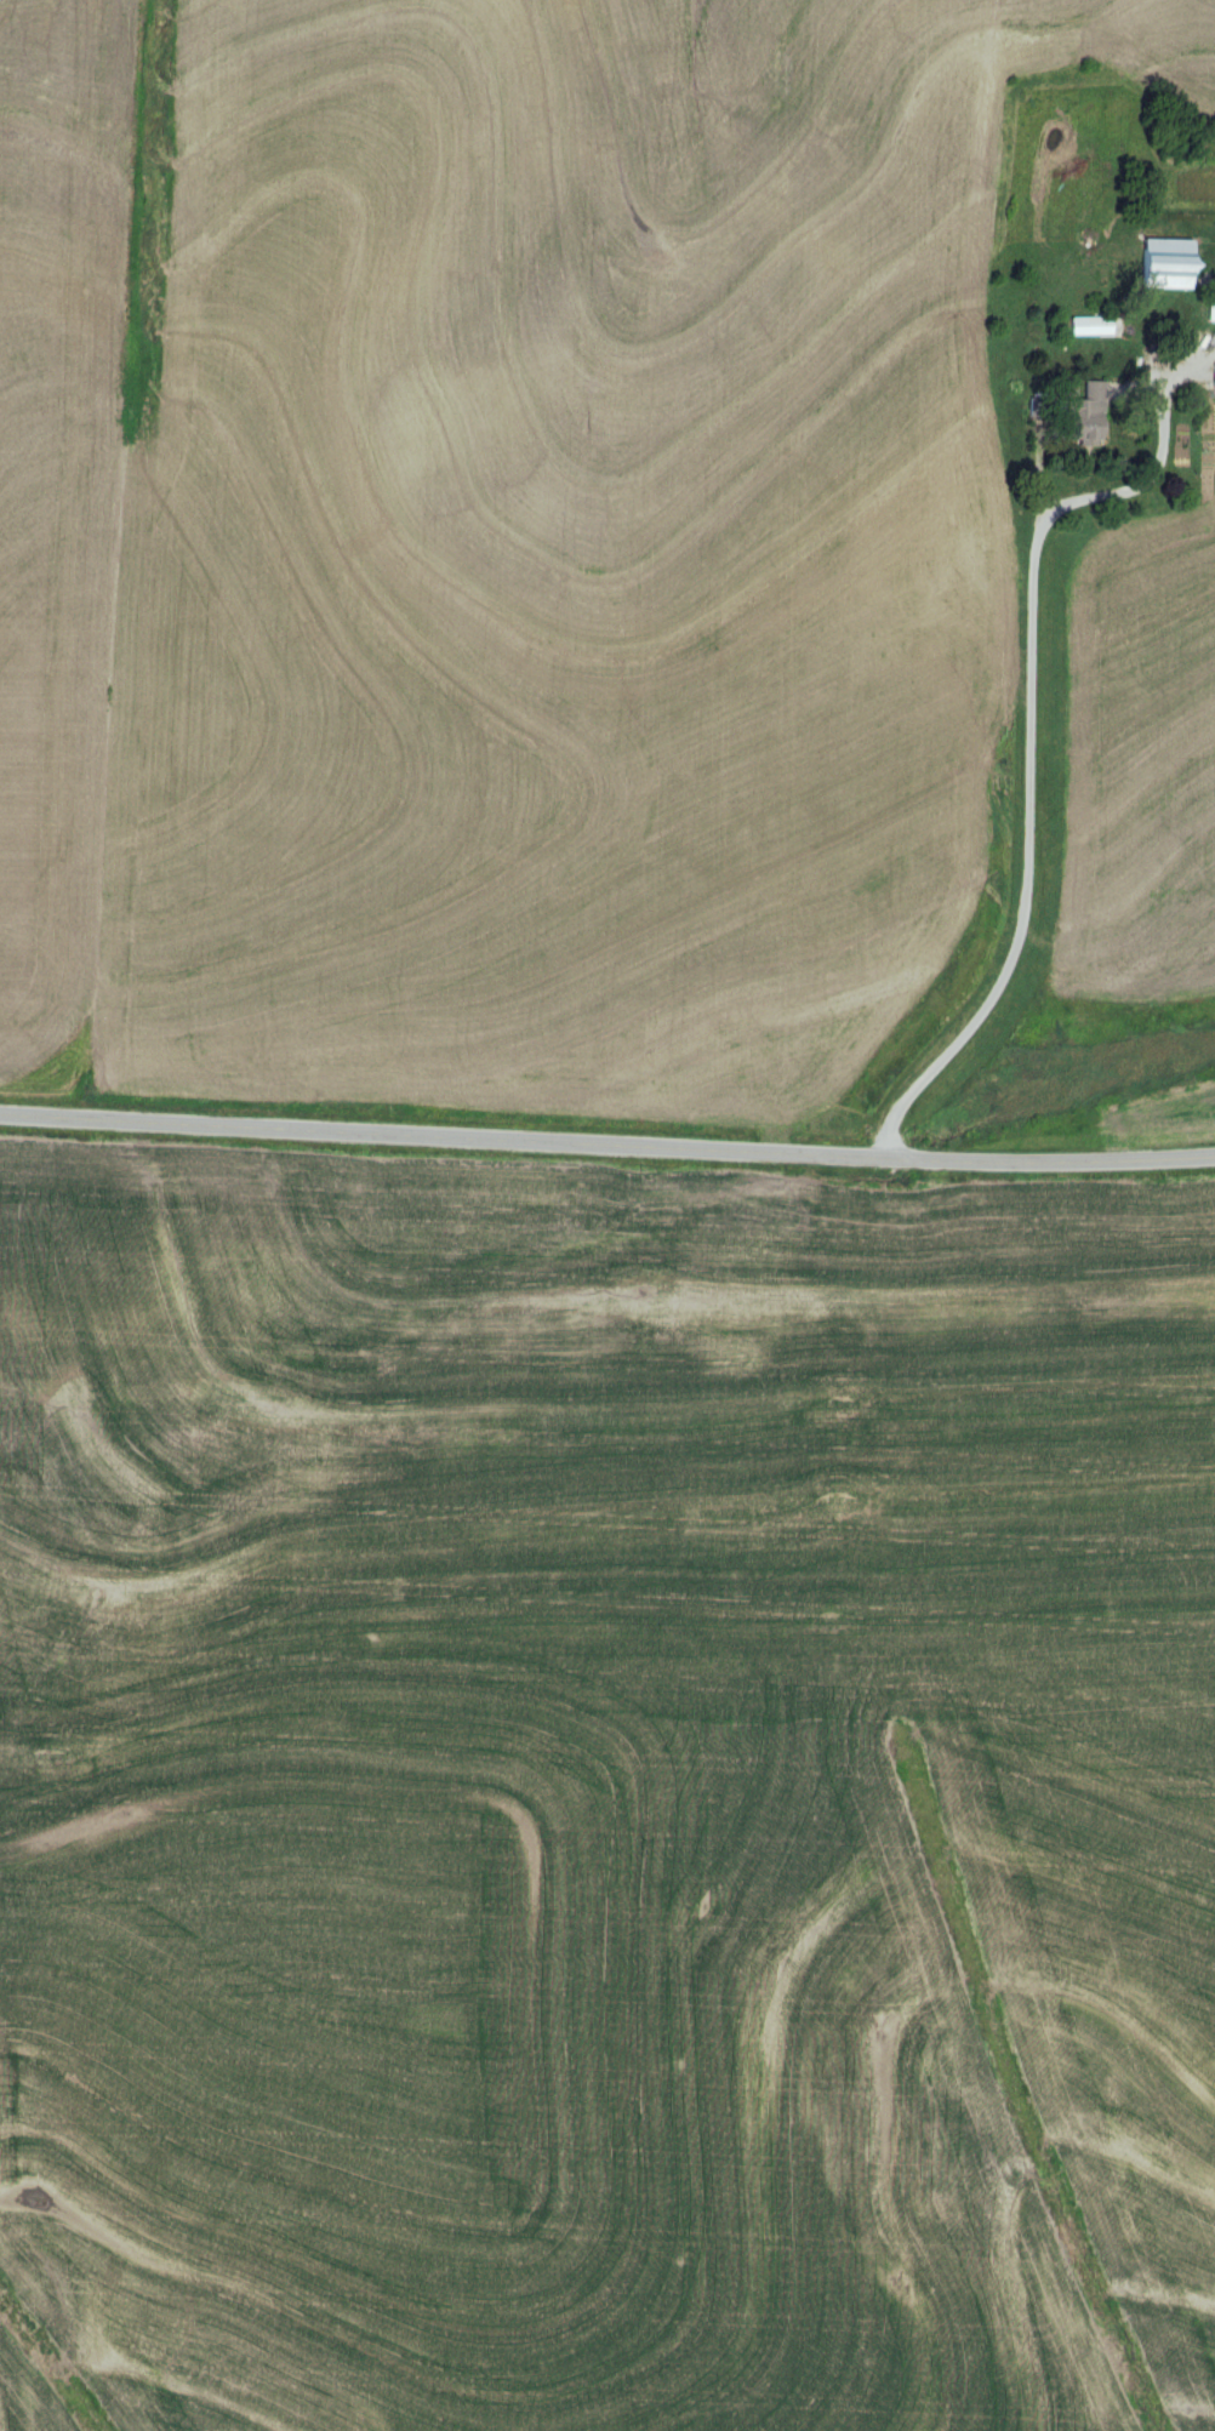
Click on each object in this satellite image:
building: (1159, 263)
building: (1209, 309)
building: (1086, 325)
building: (1211, 377)
building: (1080, 413)
road: (1028, 774)
road: (606, 1143)

